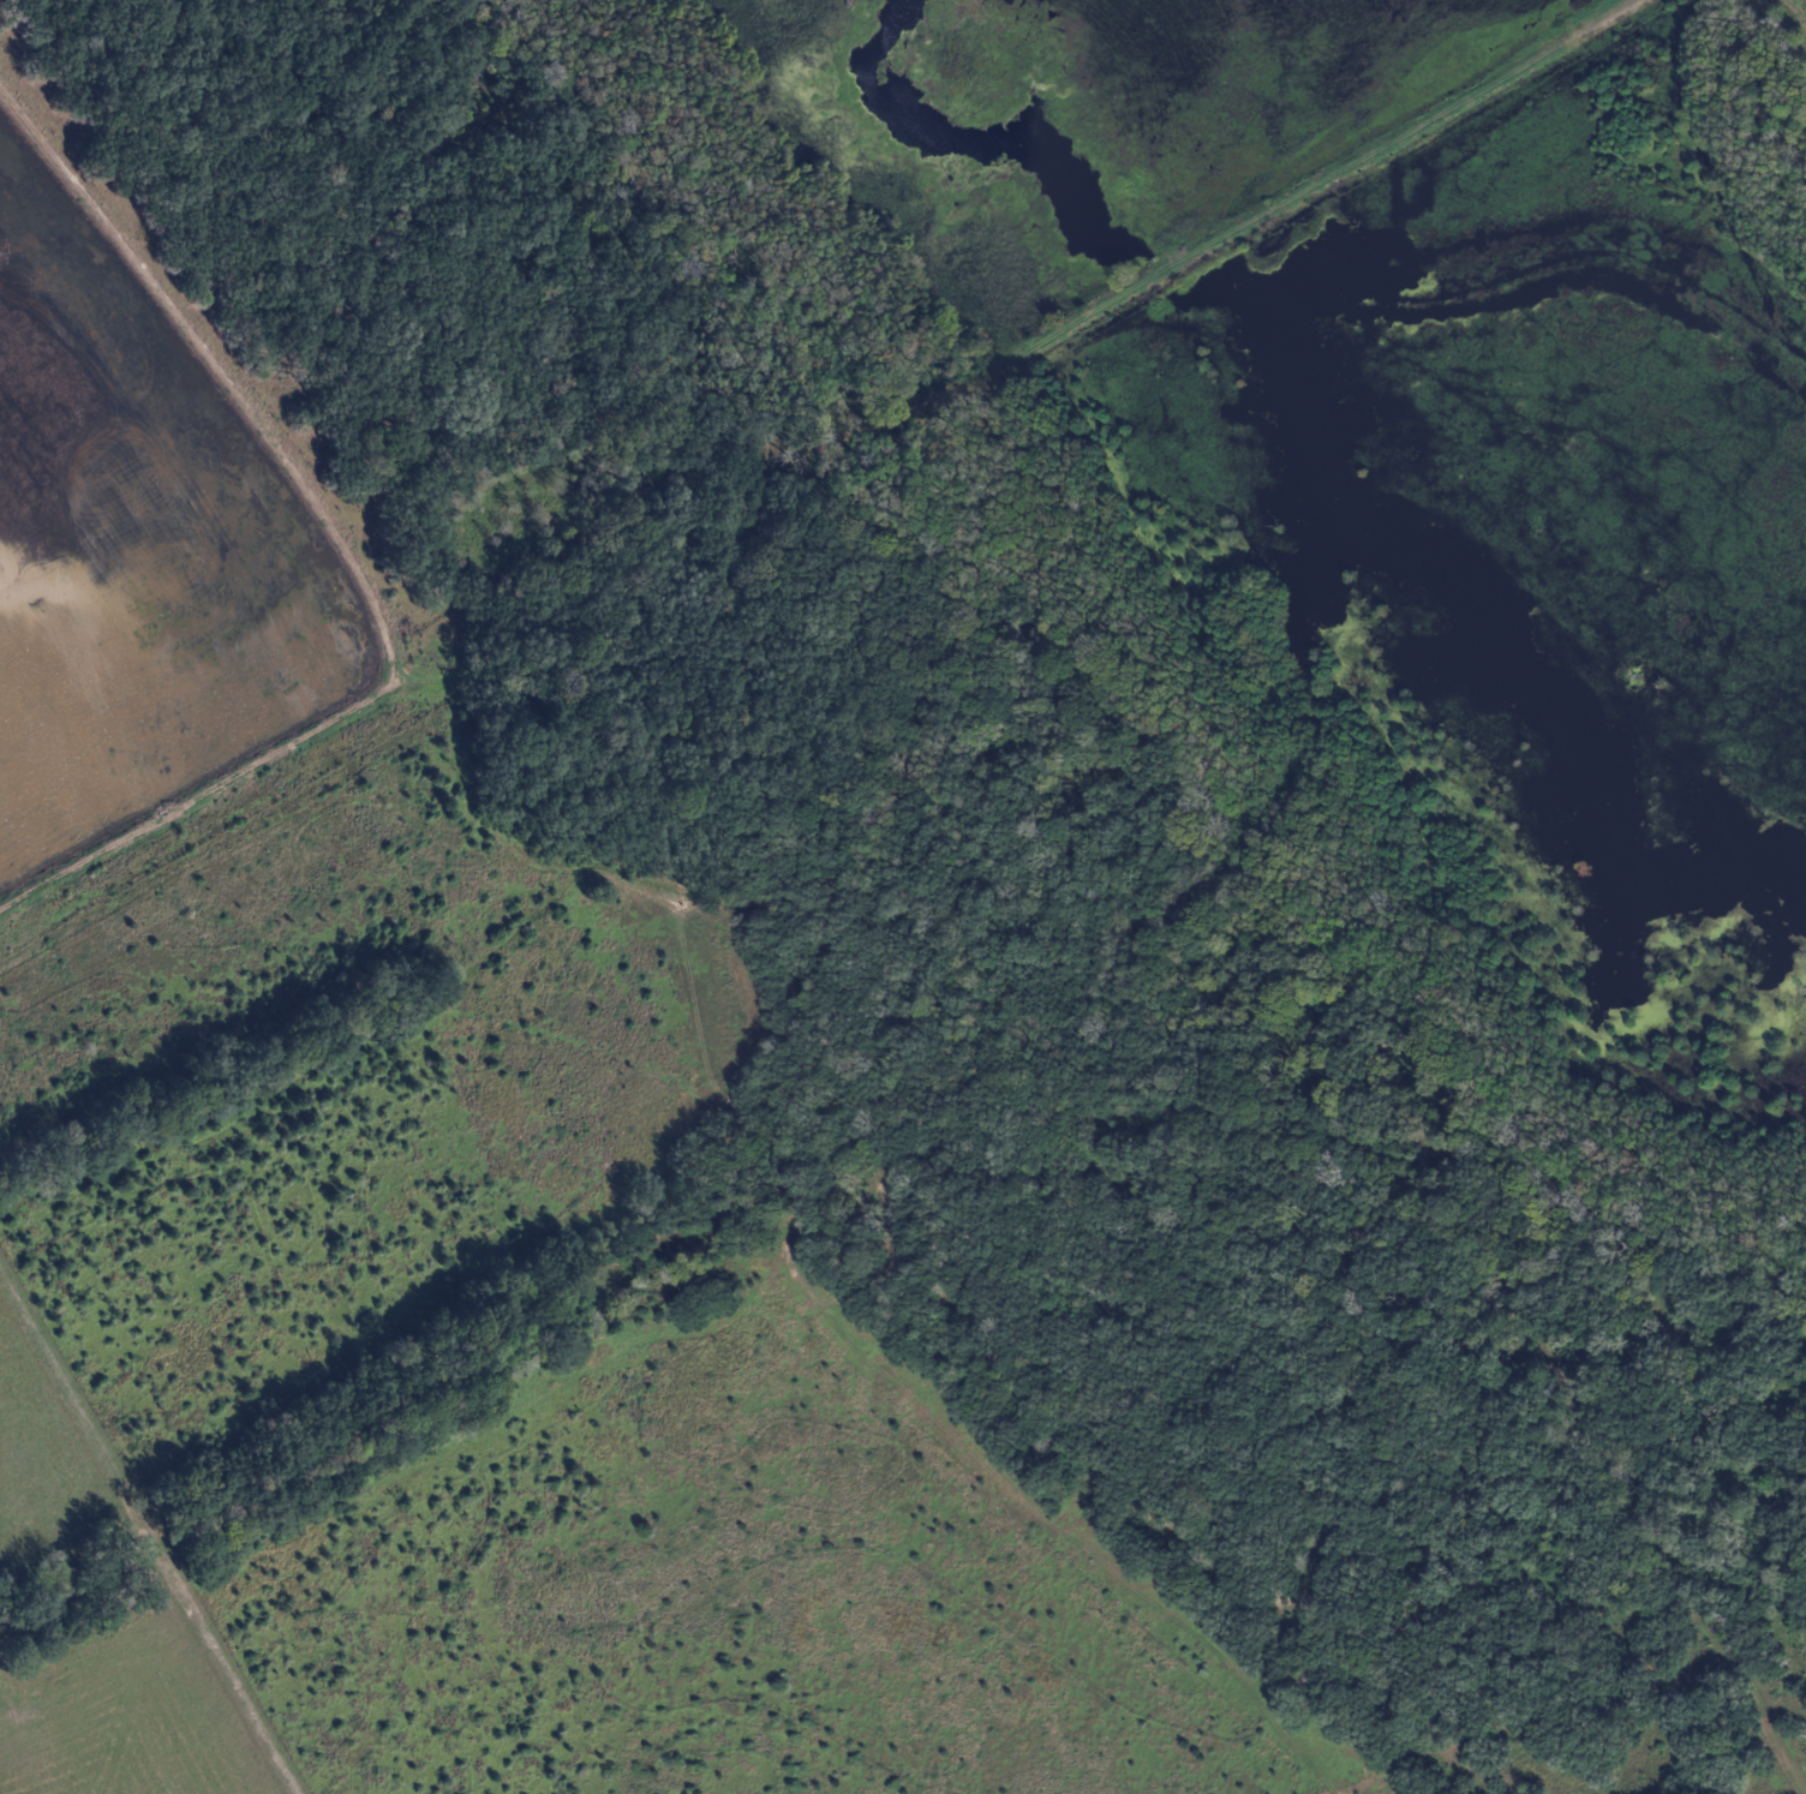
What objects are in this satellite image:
road: (403, 1391)
road: (1673, 1561)

